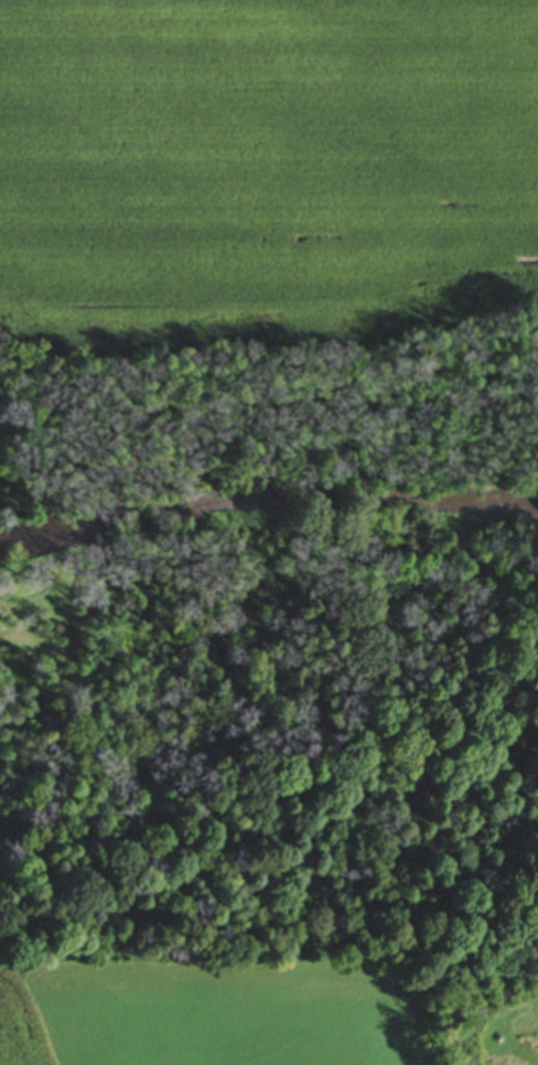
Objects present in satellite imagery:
river: (269, 501)

